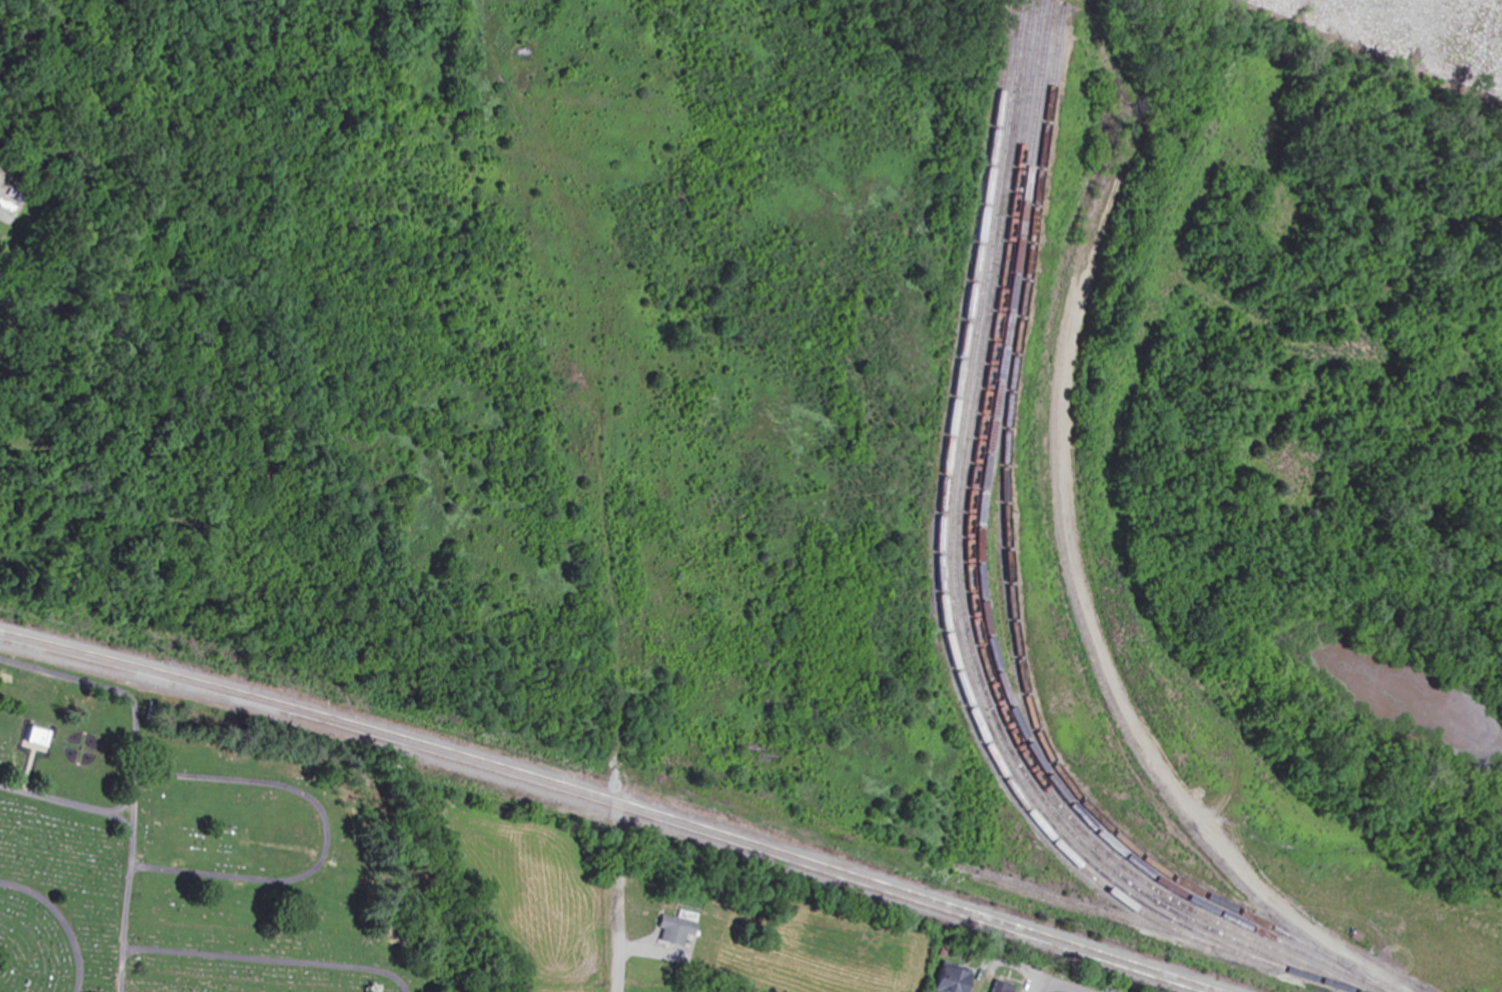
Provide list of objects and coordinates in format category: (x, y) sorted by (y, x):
road: (134, 777)
railway: (612, 800)
road: (69, 803)
railway: (597, 804)
road: (123, 807)
road: (325, 838)
park: (193, 851)
railway: (1037, 892)
road: (620, 906)
road: (63, 919)
road: (266, 960)
road: (992, 965)
road: (1035, 985)

